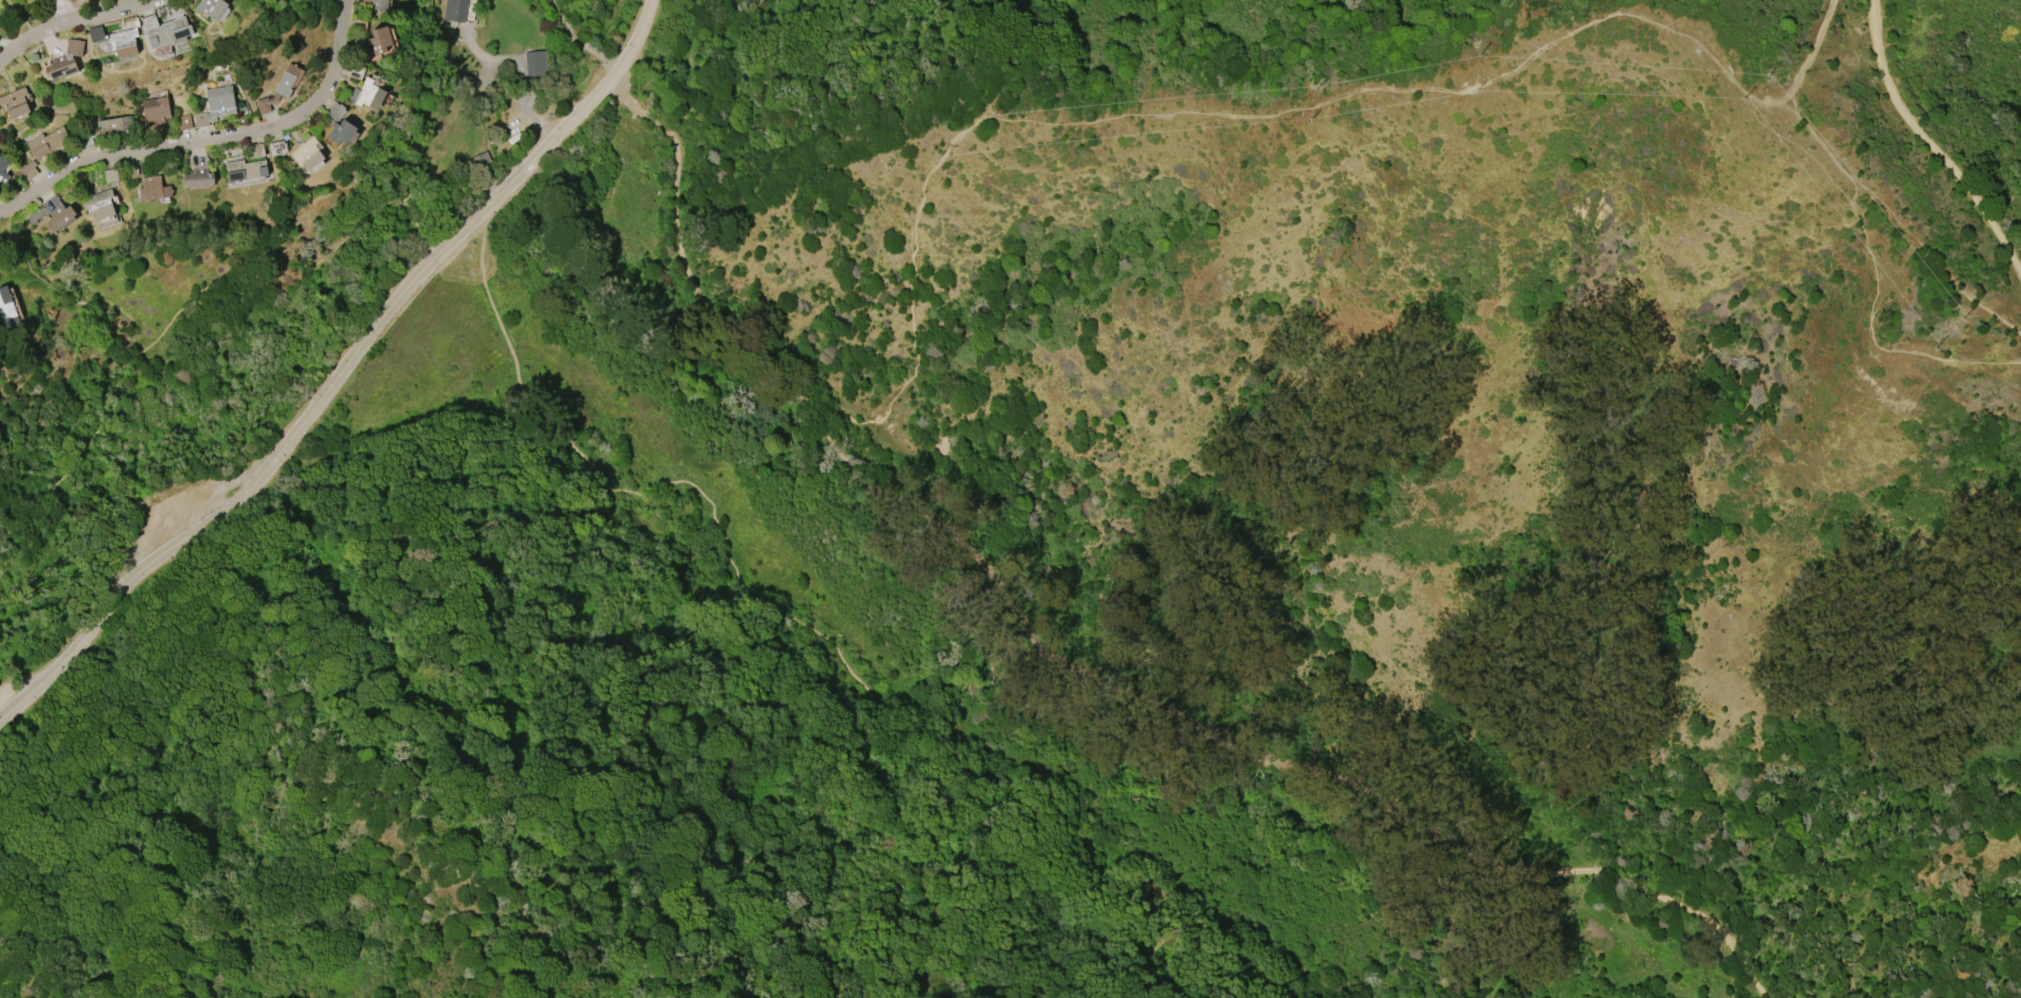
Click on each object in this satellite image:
building: (379, 5)
building: (210, 7)
road: (65, 10)
building: (456, 10)
road: (66, 18)
building: (165, 30)
road: (578, 39)
building: (118, 41)
building: (380, 41)
building: (65, 61)
building: (536, 63)
road: (520, 75)
building: (280, 88)
building: (370, 95)
building: (16, 103)
building: (218, 105)
building: (157, 110)
road: (403, 110)
building: (340, 125)
building: (111, 126)
road: (209, 138)
building: (49, 145)
road: (1934, 145)
building: (278, 148)
building: (258, 149)
building: (309, 155)
power tower: (893, 161)
building: (3, 168)
building: (247, 170)
building: (111, 176)
building: (200, 178)
building: (152, 188)
building: (102, 208)
building: (60, 217)
road: (195, 302)
building: (8, 309)
road: (342, 379)
power tower: (1138, 412)
power tower: (1356, 642)
road: (860, 661)
road: (1081, 668)

